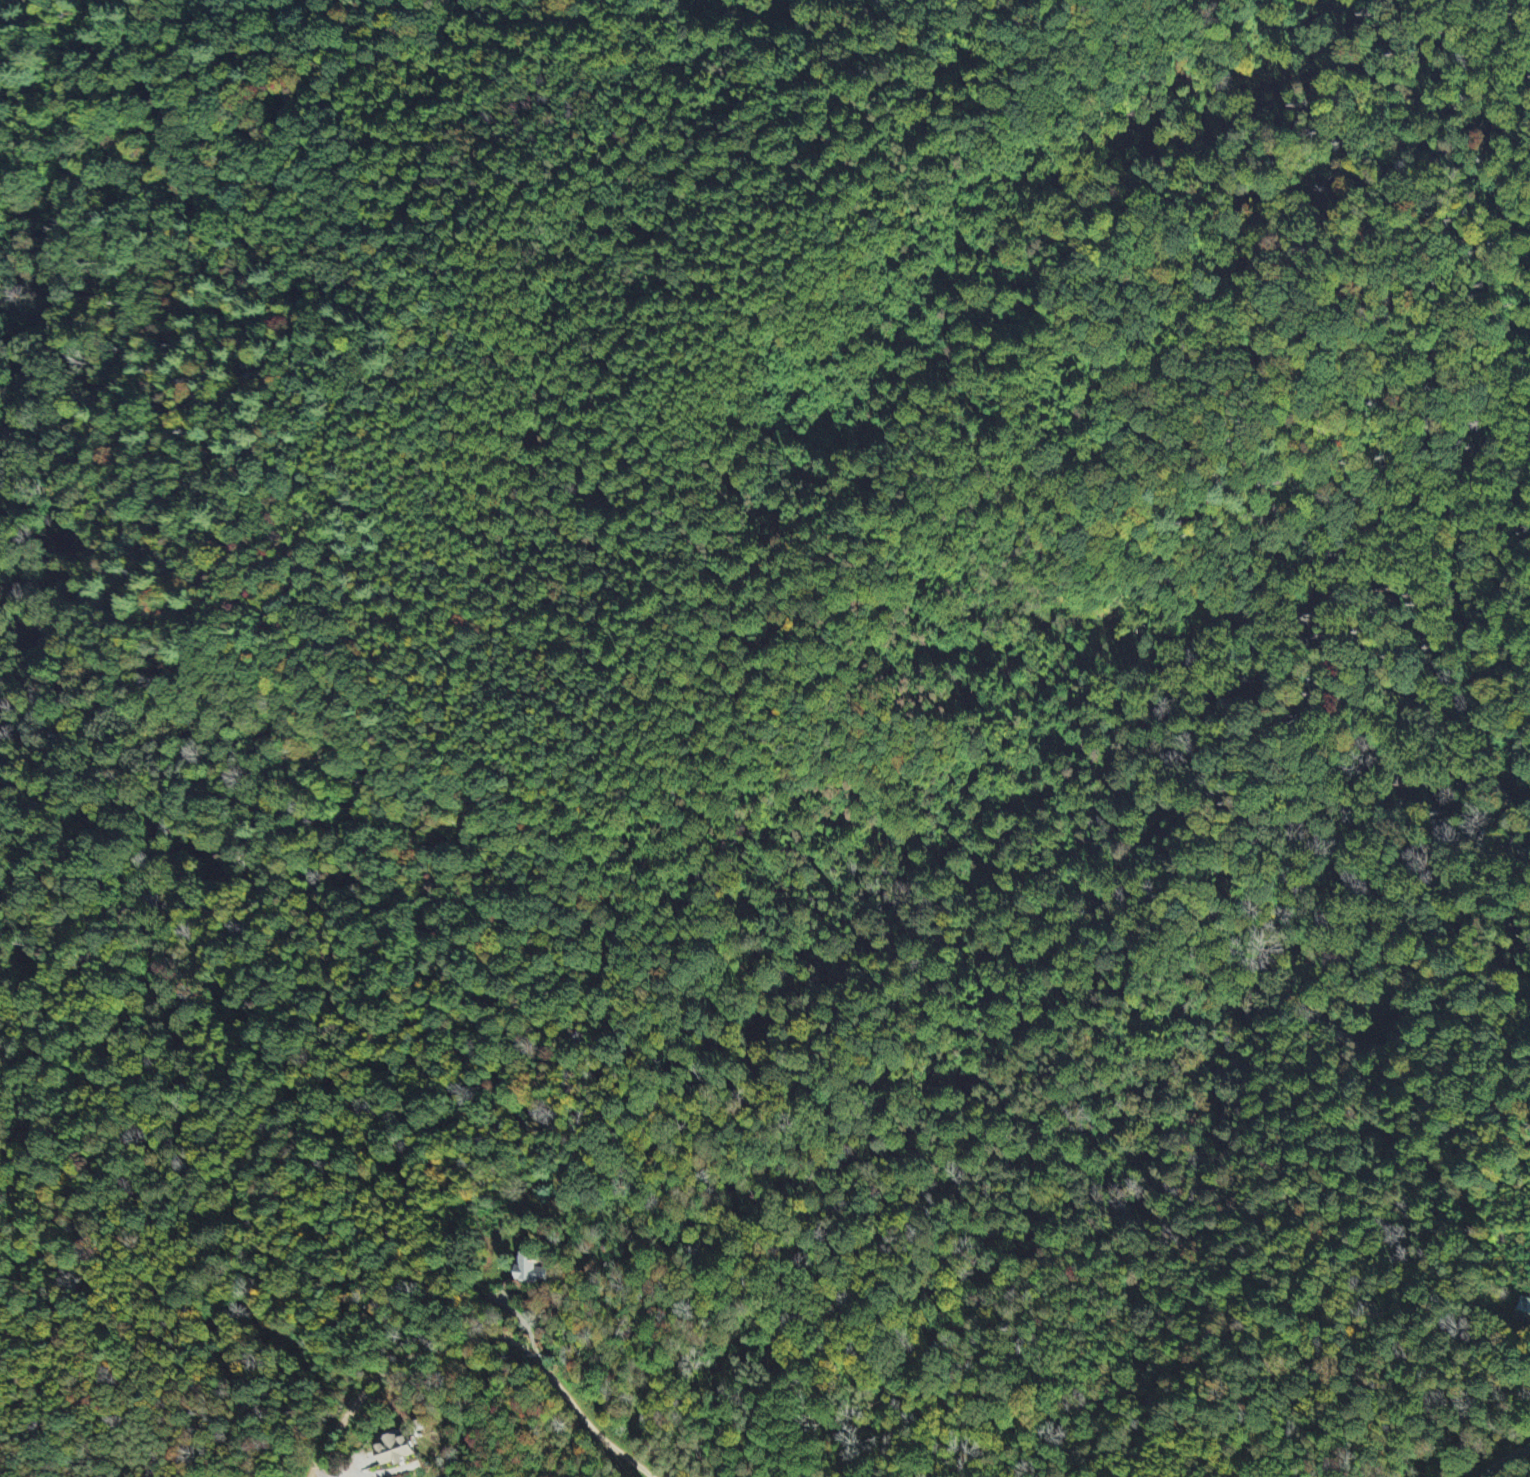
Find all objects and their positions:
building: (532, 1269)
building: (1525, 1308)
road: (480, 1332)
road: (1505, 1461)

